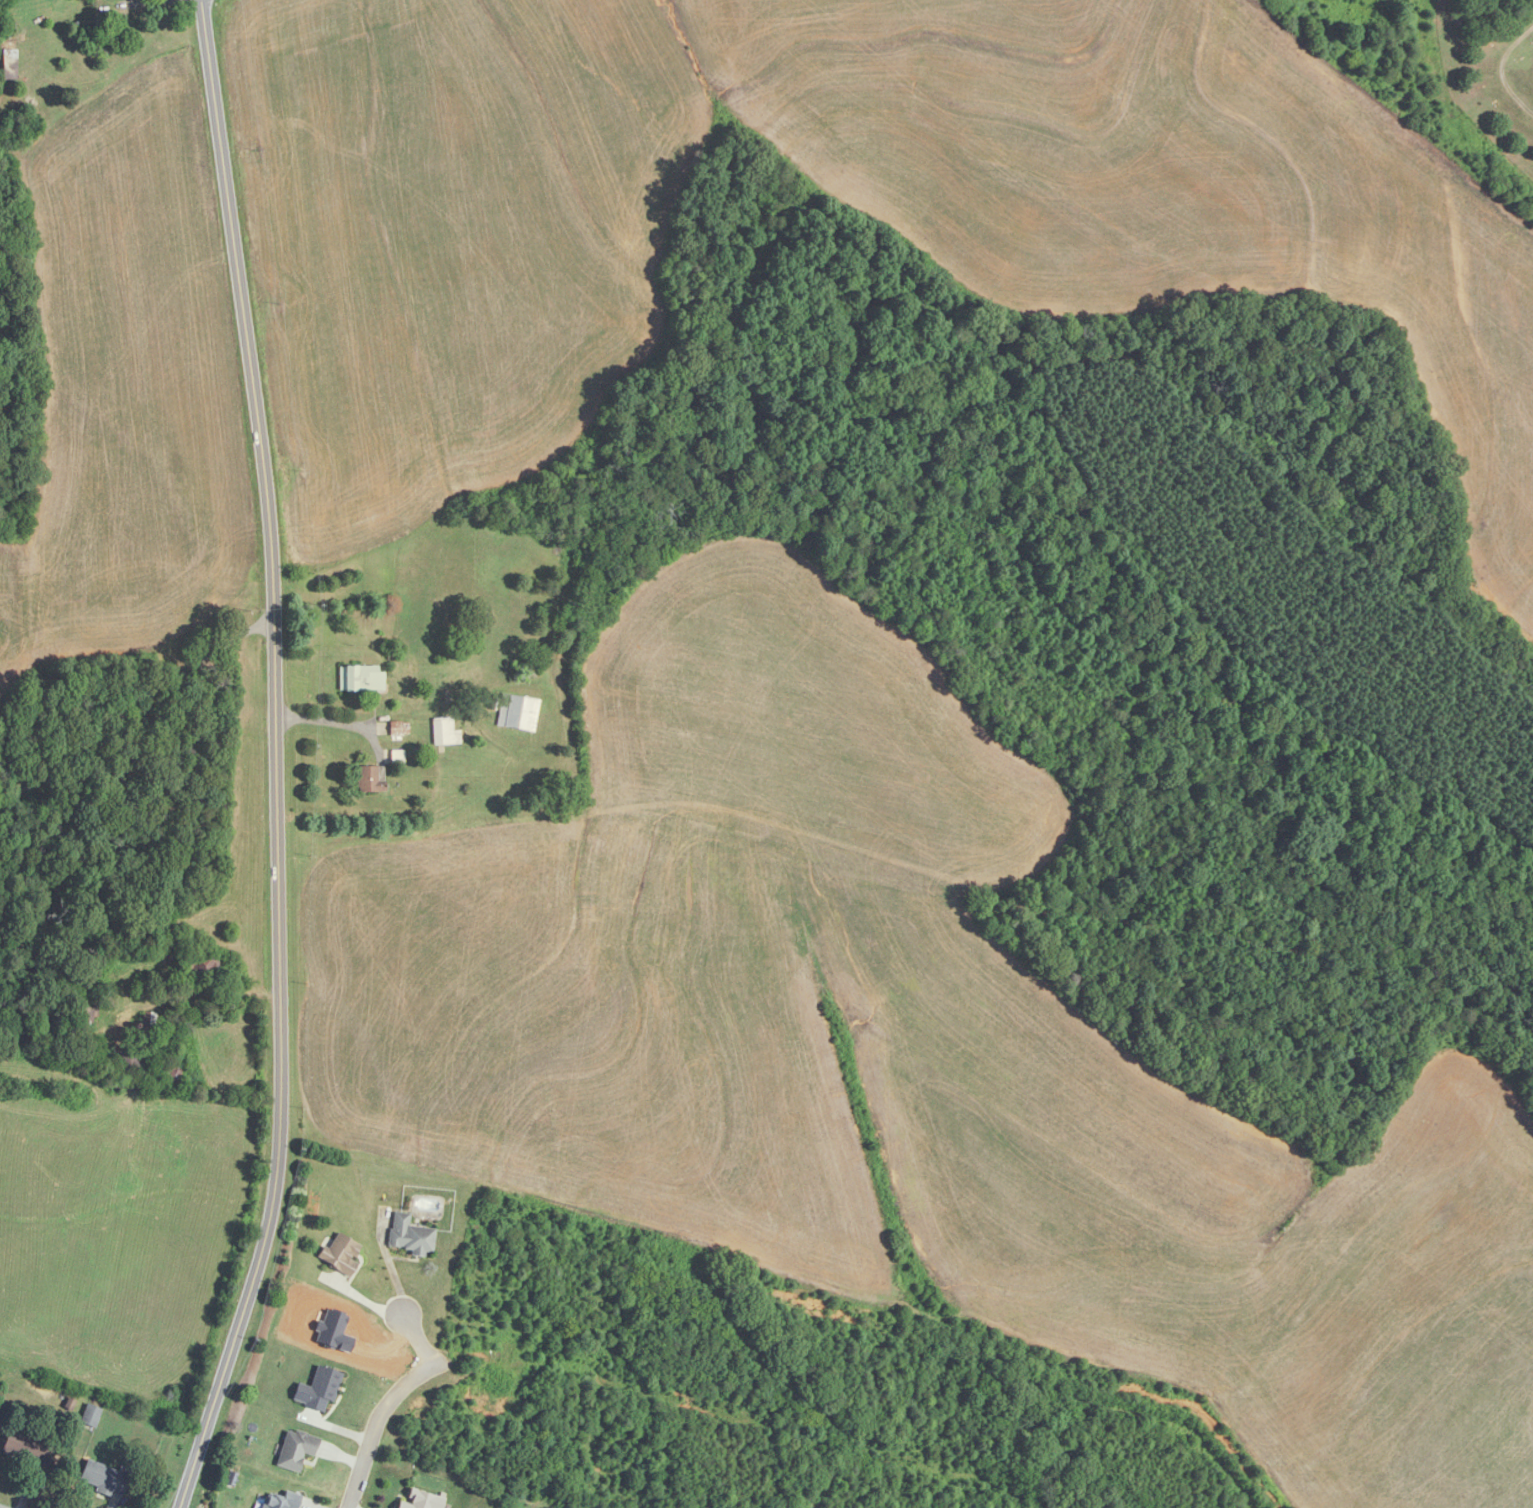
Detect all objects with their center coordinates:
building: (10, 62)
building: (361, 678)
road: (133, 693)
building: (518, 712)
road: (330, 721)
building: (445, 732)
road: (275, 758)
building: (371, 779)
building: (200, 968)
building: (85, 1015)
building: (130, 1059)
building: (176, 1073)
building: (409, 1236)
building: (341, 1254)
road: (389, 1263)
road: (418, 1340)
building: (317, 1389)
building: (91, 1416)
road: (379, 1419)
building: (295, 1449)
building: (29, 1450)
building: (104, 1479)
building: (280, 1500)
building: (421, 1500)

